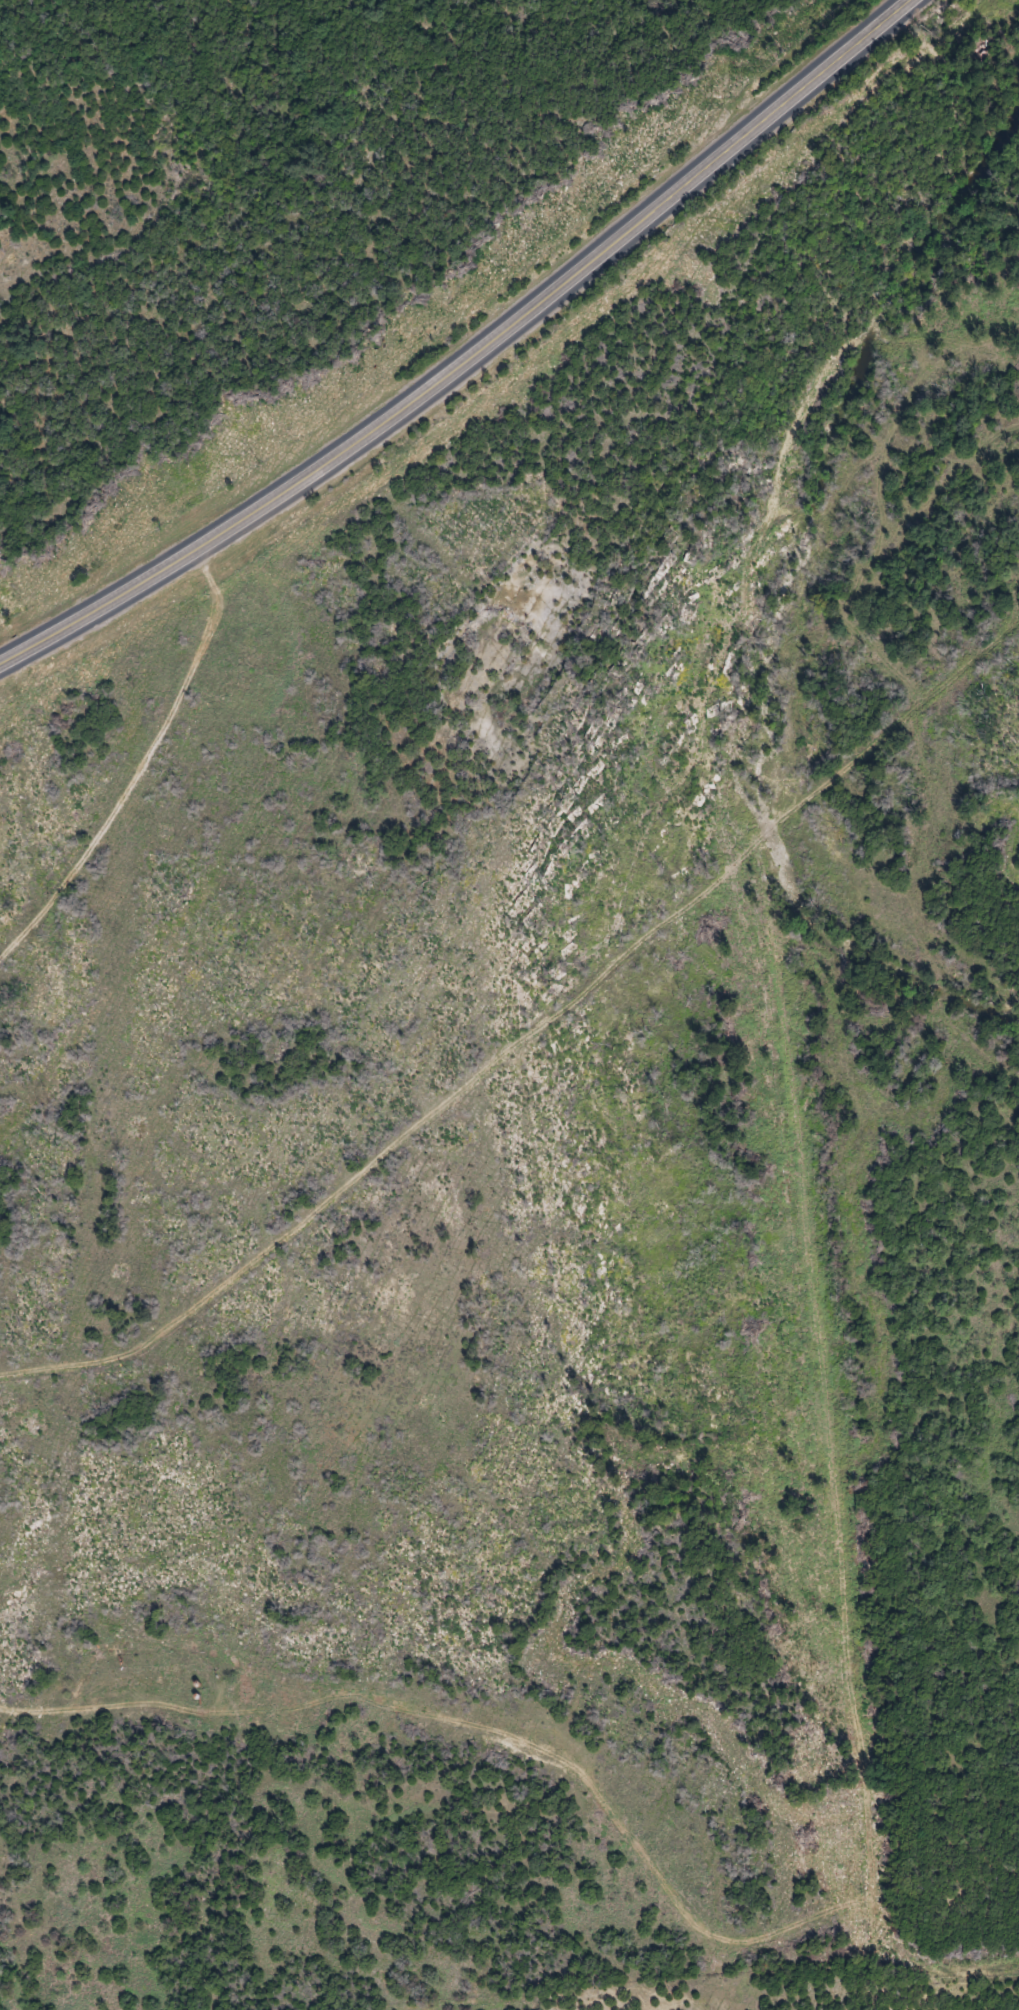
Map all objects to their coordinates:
road: (475, 357)
road: (144, 763)
road: (18, 1705)

